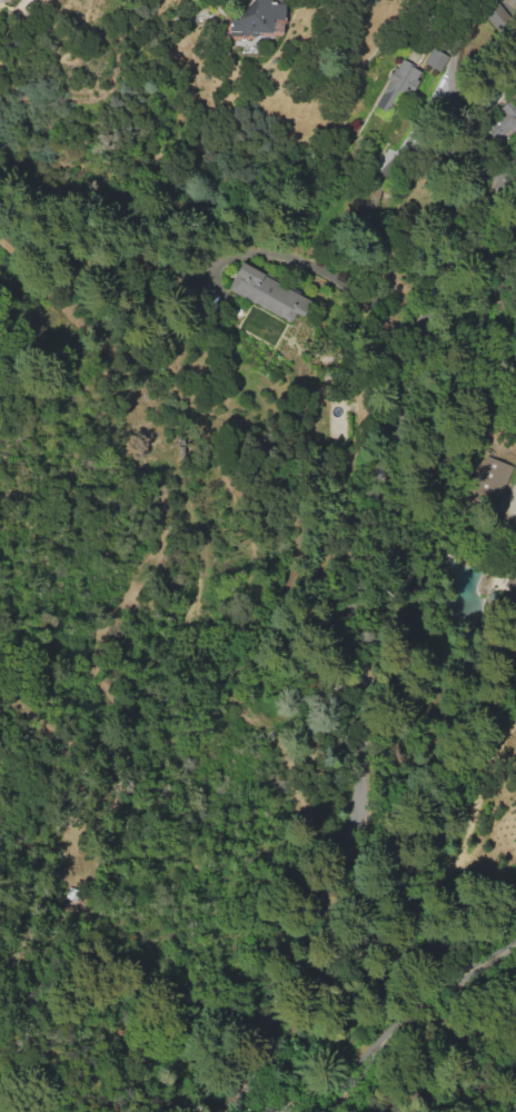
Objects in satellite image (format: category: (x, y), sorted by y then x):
building: (2, 1)
road: (514, 2)
building: (259, 20)
building: (436, 60)
building: (515, 80)
building: (515, 82)
building: (398, 83)
building: (509, 115)
road: (515, 170)
building: (267, 294)
building: (492, 476)
building: (514, 580)
road: (354, 771)
road: (257, 1099)

